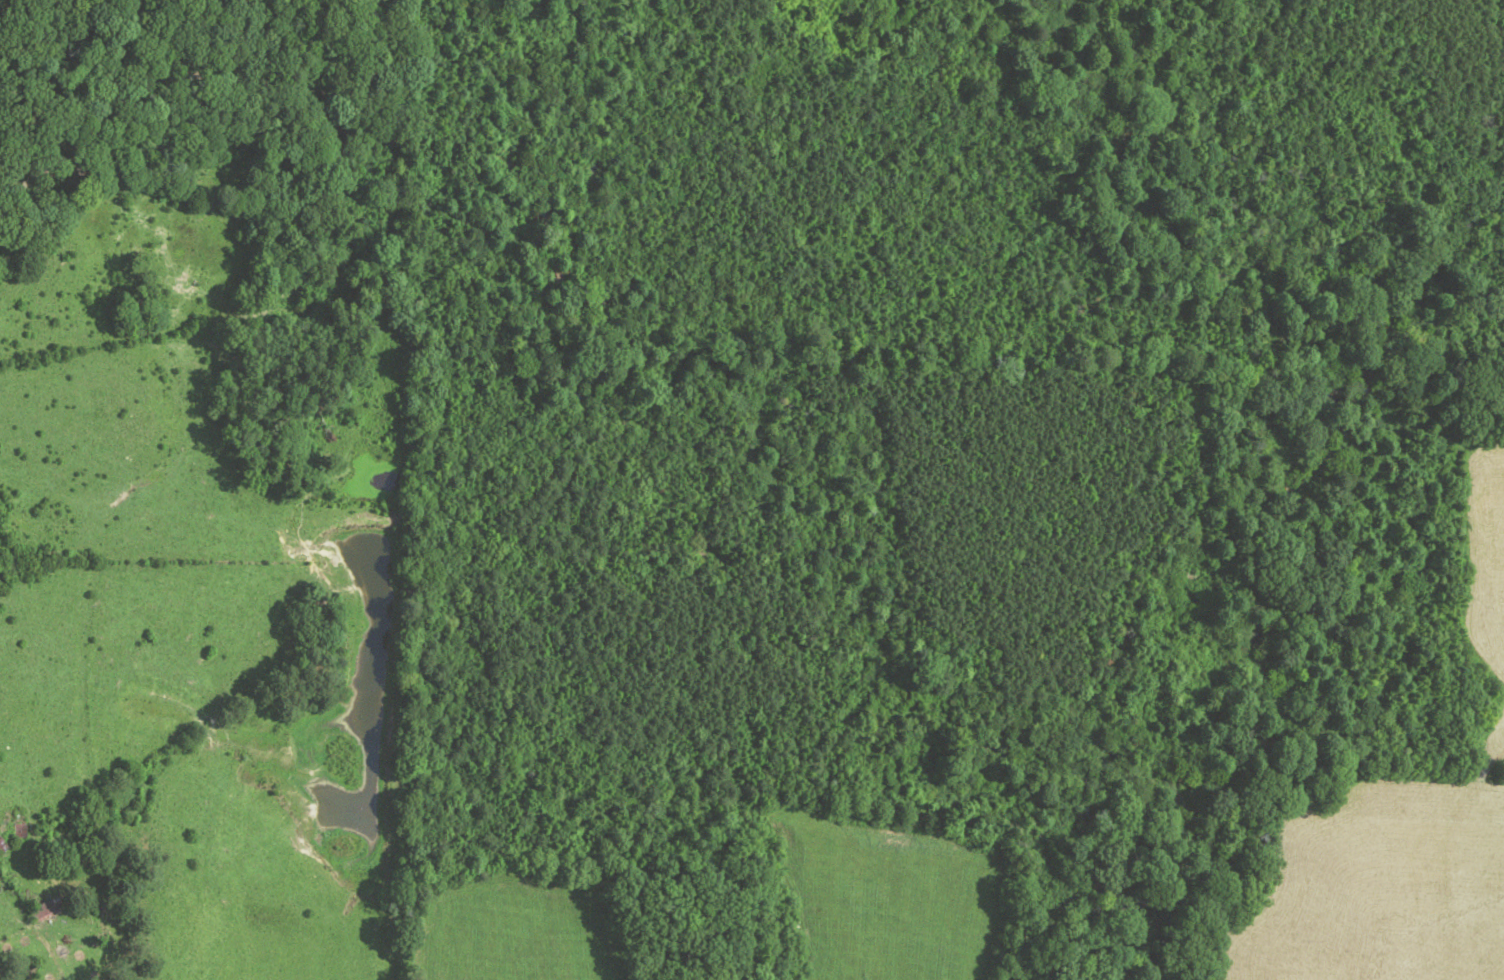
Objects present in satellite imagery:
building: (41, 912)

